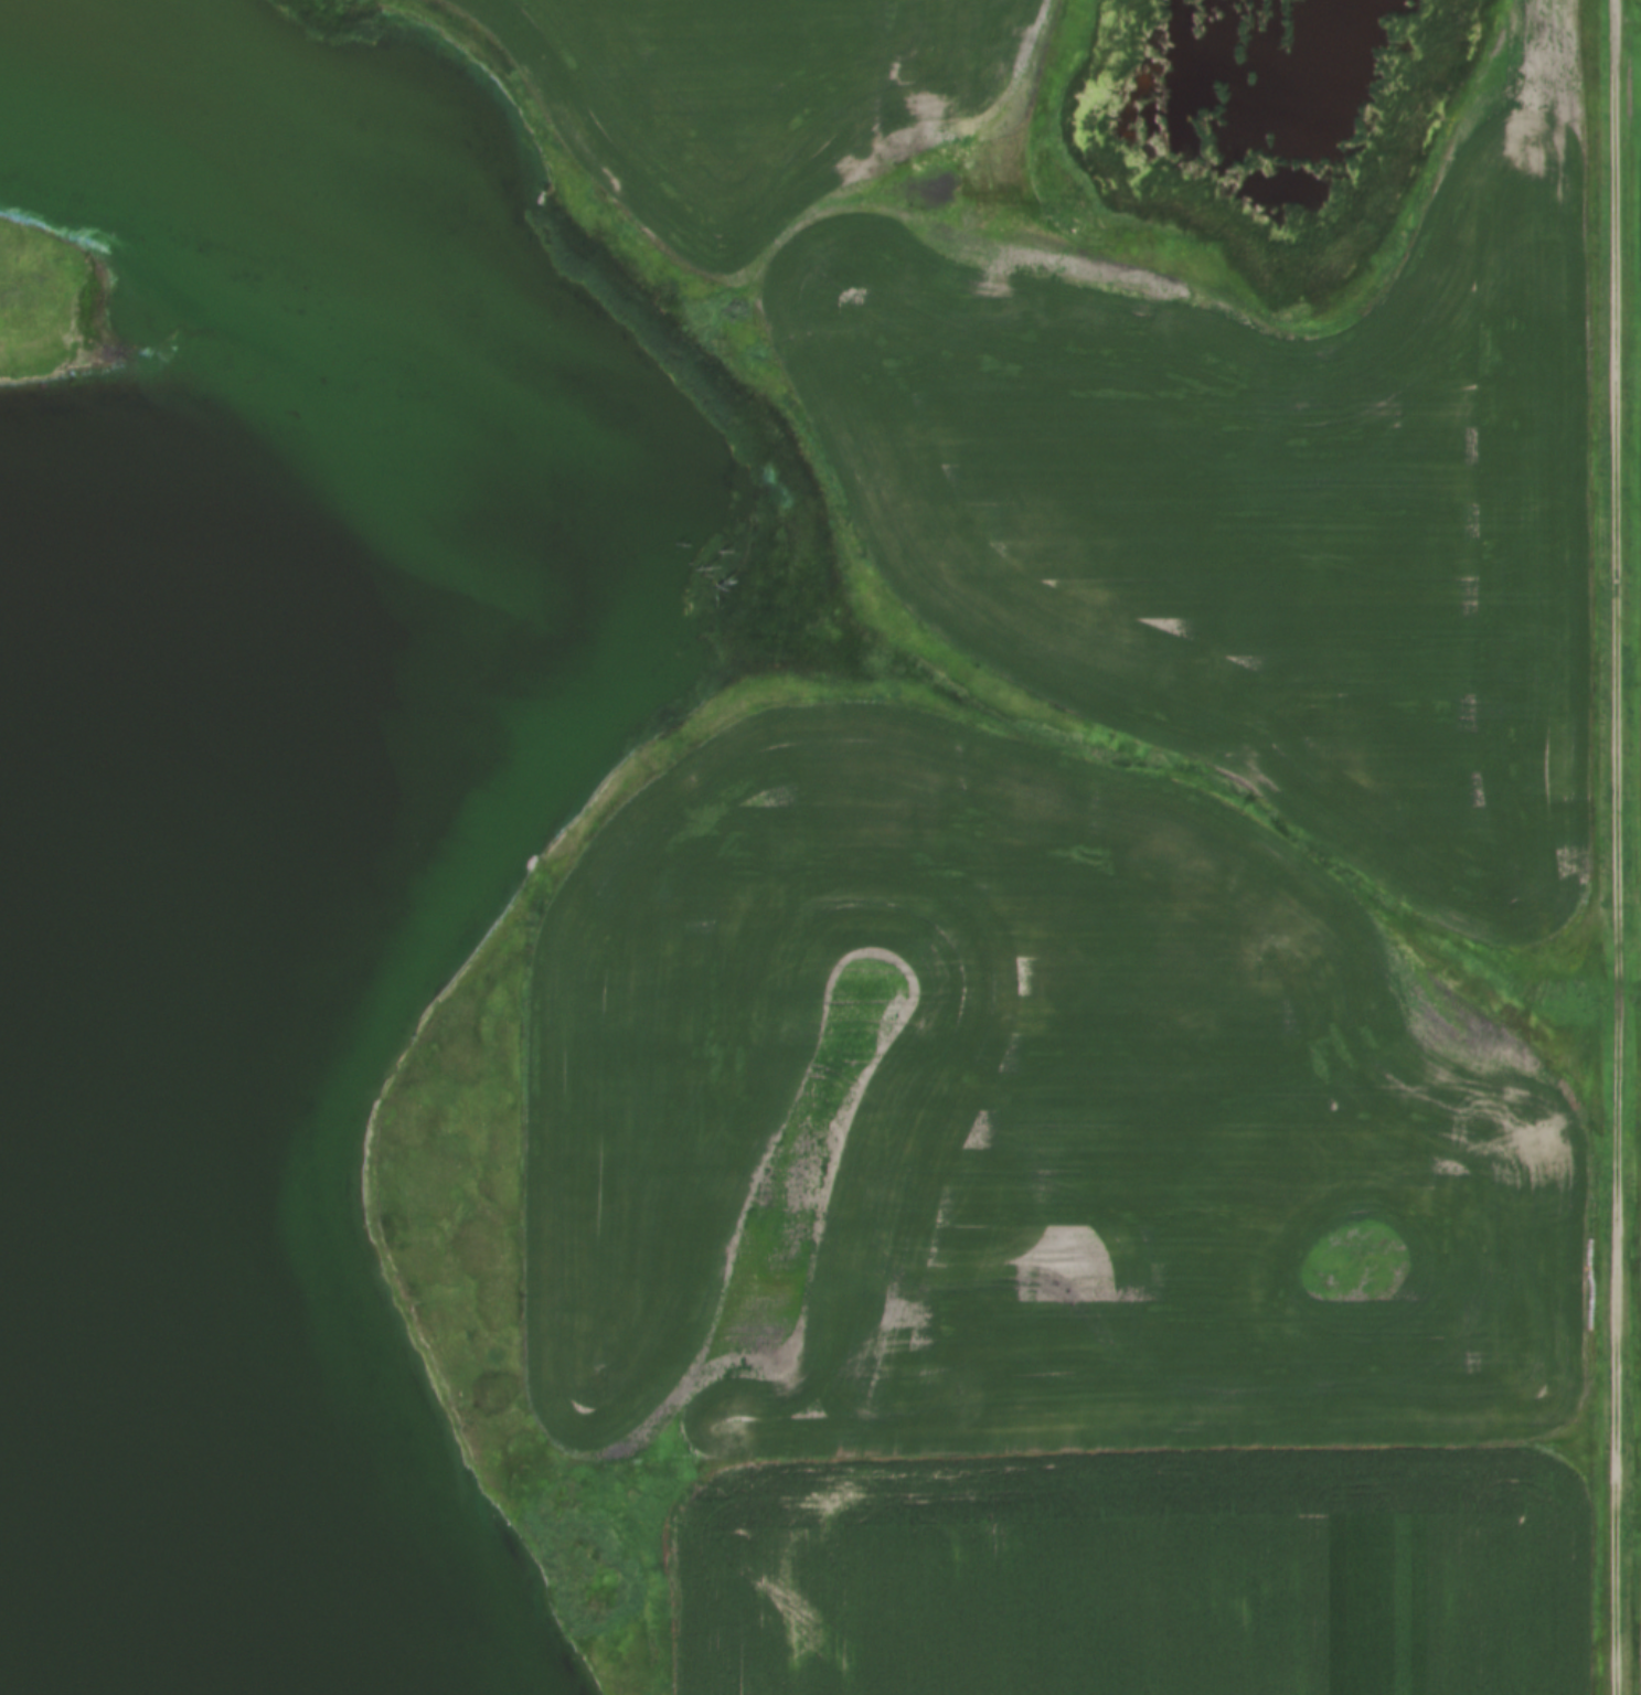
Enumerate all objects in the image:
road: (1620, 847)

